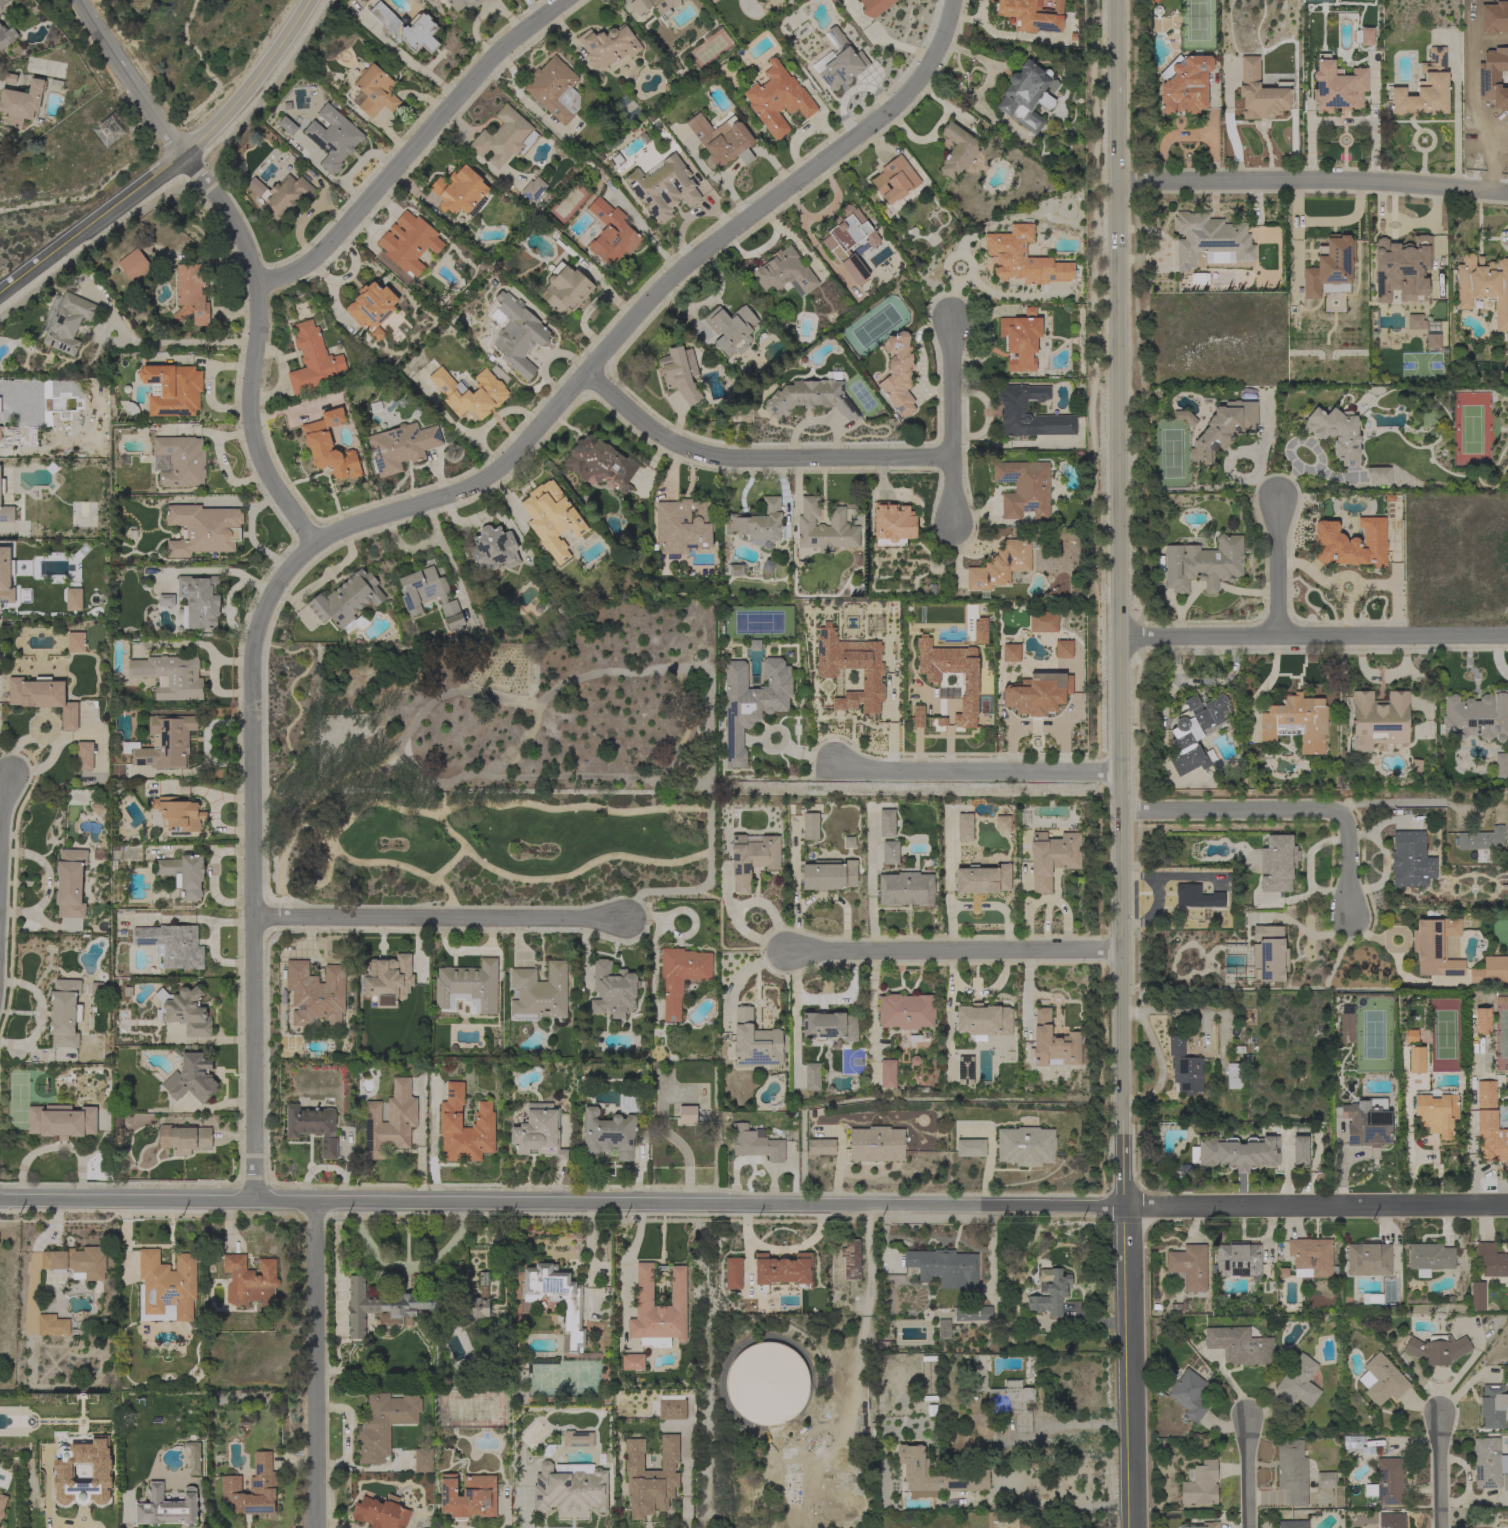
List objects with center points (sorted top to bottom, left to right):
building: (2, 2)
building: (462, 3)
building: (874, 7)
building: (662, 11)
building: (1027, 15)
building: (408, 29)
building: (6, 36)
building: (1364, 36)
building: (609, 47)
building: (838, 61)
road: (130, 77)
building: (1184, 84)
building: (1337, 86)
building: (1424, 89)
building: (554, 90)
building: (375, 91)
building: (1260, 92)
building: (1027, 95)
building: (777, 99)
building: (21, 103)
road: (1340, 120)
building: (287, 126)
power tower: (106, 132)
building: (333, 138)
building: (504, 138)
building: (722, 141)
road: (412, 146)
building: (957, 151)
road: (172, 161)
building: (894, 180)
road: (1311, 181)
building: (663, 187)
building: (533, 189)
road: (199, 190)
building: (459, 191)
building: (285, 196)
road: (1322, 222)
road: (643, 229)
building: (611, 233)
building: (1210, 239)
building: (849, 241)
building: (408, 243)
building: (1023, 258)
building: (1329, 264)
building: (134, 265)
building: (1401, 268)
building: (784, 273)
building: (1483, 286)
building: (565, 288)
building: (190, 294)
road: (647, 299)
building: (372, 305)
building: (65, 322)
building: (731, 329)
building: (517, 335)
building: (1432, 341)
building: (1025, 342)
building: (312, 360)
building: (679, 373)
building: (898, 373)
building: (172, 389)
building: (470, 393)
building: (810, 397)
building: (1014, 410)
building: (1184, 417)
road: (953, 424)
building: (1223, 429)
building: (1336, 433)
building: (329, 446)
building: (401, 446)
road: (756, 458)
building: (178, 461)
building: (600, 462)
building: (1378, 475)
building: (2, 486)
building: (1024, 488)
building: (6, 514)
building: (551, 519)
building: (760, 523)
building: (893, 524)
building: (683, 526)
building: (824, 528)
building: (203, 530)
building: (1351, 543)
building: (493, 549)
building: (1203, 564)
building: (1000, 565)
road: (1279, 567)
road: (220, 570)
building: (6, 576)
building: (429, 596)
building: (73, 599)
building: (346, 600)
building: (164, 601)
building: (199, 601)
building: (1042, 622)
road: (1314, 635)
building: (75, 642)
building: (850, 646)
building: (1062, 649)
road: (249, 652)
building: (1010, 652)
building: (870, 673)
building: (170, 676)
building: (968, 678)
building: (1036, 693)
building: (43, 697)
building: (751, 703)
building: (916, 716)
building: (1477, 716)
building: (1378, 720)
building: (1297, 722)
building: (1195, 732)
building: (163, 742)
building: (84, 756)
road: (1121, 763)
park: (498, 765)
building: (1501, 765)
building: (1415, 766)
road: (974, 770)
road: (5, 796)
road: (1405, 803)
building: (97, 808)
road: (1284, 811)
building: (176, 815)
building: (887, 823)
building: (1001, 823)
building: (810, 825)
building: (964, 827)
building: (1480, 839)
building: (890, 852)
building: (1052, 857)
building: (751, 858)
building: (1409, 859)
building: (1277, 863)
building: (183, 874)
building: (829, 875)
building: (982, 879)
building: (70, 883)
building: (906, 889)
building: (1198, 897)
building: (1207, 914)
road: (440, 917)
road: (186, 919)
building: (172, 945)
building: (1429, 947)
road: (955, 951)
building: (1269, 954)
building: (1489, 971)
road: (743, 973)
building: (680, 976)
building: (387, 979)
building: (468, 987)
building: (613, 989)
building: (315, 993)
building: (539, 993)
building: (184, 1011)
building: (906, 1011)
building: (63, 1013)
building: (984, 1020)
building: (1482, 1021)
building: (829, 1026)
building: (1346, 1028)
building: (1410, 1036)
building: (753, 1042)
building: (1052, 1043)
building: (1416, 1059)
building: (1185, 1068)
building: (965, 1069)
building: (887, 1073)
building: (1234, 1075)
building: (812, 1076)
building: (190, 1078)
building: (629, 1100)
building: (1436, 1111)
building: (687, 1114)
building: (450, 1117)
building: (61, 1121)
building: (390, 1121)
building: (1367, 1122)
building: (1489, 1125)
building: (312, 1126)
building: (538, 1133)
building: (608, 1135)
building: (184, 1138)
building: (756, 1143)
building: (876, 1144)
building: (1025, 1146)
building: (821, 1147)
building: (970, 1147)
building: (1299, 1150)
building: (1236, 1152)
road: (562, 1204)
road: (1316, 1206)
building: (851, 1257)
building: (1310, 1257)
building: (1368, 1258)
building: (1429, 1258)
building: (1491, 1261)
building: (76, 1262)
building: (1238, 1262)
building: (1189, 1266)
building: (945, 1268)
building: (731, 1273)
building: (249, 1281)
building: (166, 1286)
building: (1054, 1288)
building: (1477, 1296)
building: (556, 1298)
building: (476, 1305)
building: (382, 1306)
building: (658, 1309)
building: (972, 1313)
building: (52, 1325)
building: (943, 1328)
building: (1239, 1346)
building: (1437, 1349)
building: (632, 1361)
road: (313, 1365)
building: (1381, 1380)
building: (1298, 1381)
building: (767, 1383)
storage tank: (767, 1383)
building: (1188, 1394)
building: (1012, 1403)
building: (1492, 1406)
building: (672, 1407)
building: (826, 1409)
storage tank: (826, 1409)
building: (383, 1424)
road: (1075, 1425)
building: (577, 1439)
building: (1360, 1448)
building: (193, 1457)
building: (422, 1460)
building: (1488, 1463)
building: (792, 1466)
storage tank: (792, 1466)
building: (1292, 1471)
road: (1440, 1471)
building: (62, 1473)
building: (964, 1473)
road: (1248, 1474)
building: (650, 1477)
building: (1325, 1480)
building: (1386, 1482)
building: (1505, 1482)
building: (1200, 1484)
building: (570, 1488)
building: (252, 1489)
building: (468, 1496)
road: (1041, 1501)
building: (2, 1504)
building: (166, 1508)
building: (381, 1513)
building: (1391, 1520)
building: (1003, 1521)
building: (1293, 1524)
building: (1203, 1525)

